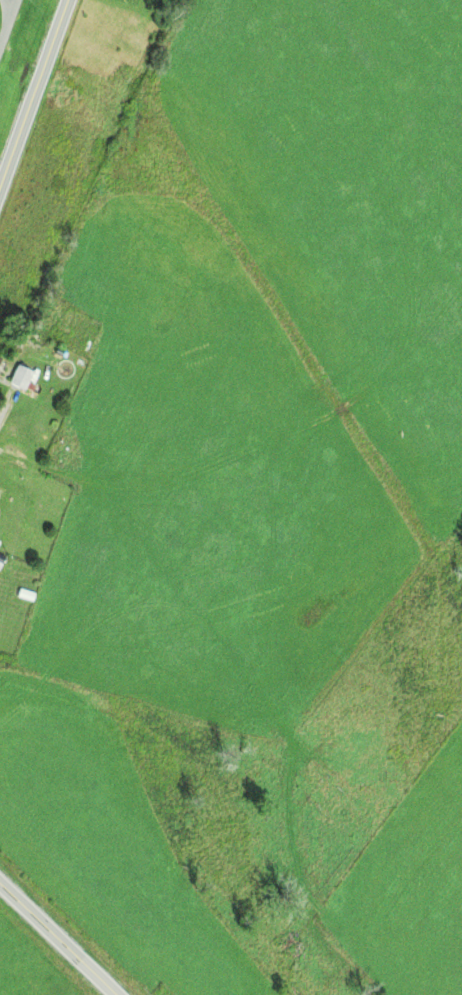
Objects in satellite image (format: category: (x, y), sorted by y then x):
road: (8, 23)
road: (36, 98)
building: (22, 377)
road: (58, 938)

